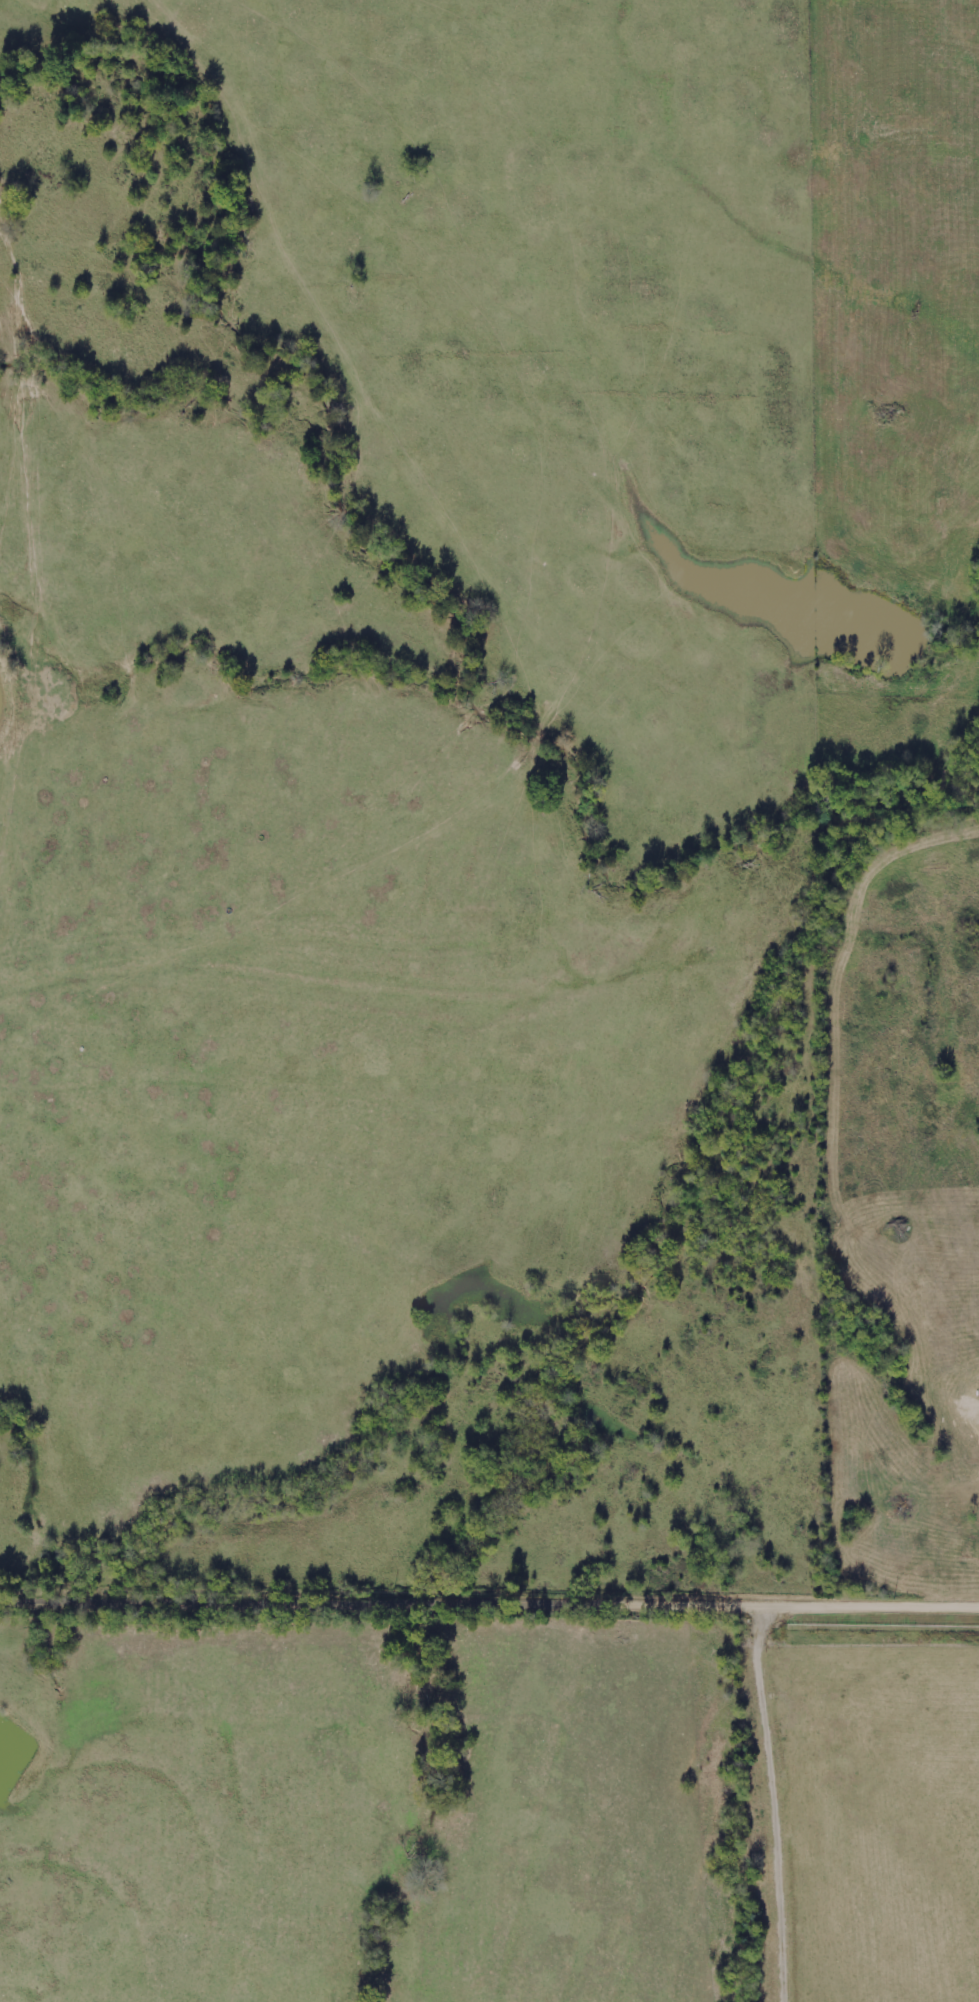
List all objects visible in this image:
road: (489, 1608)

